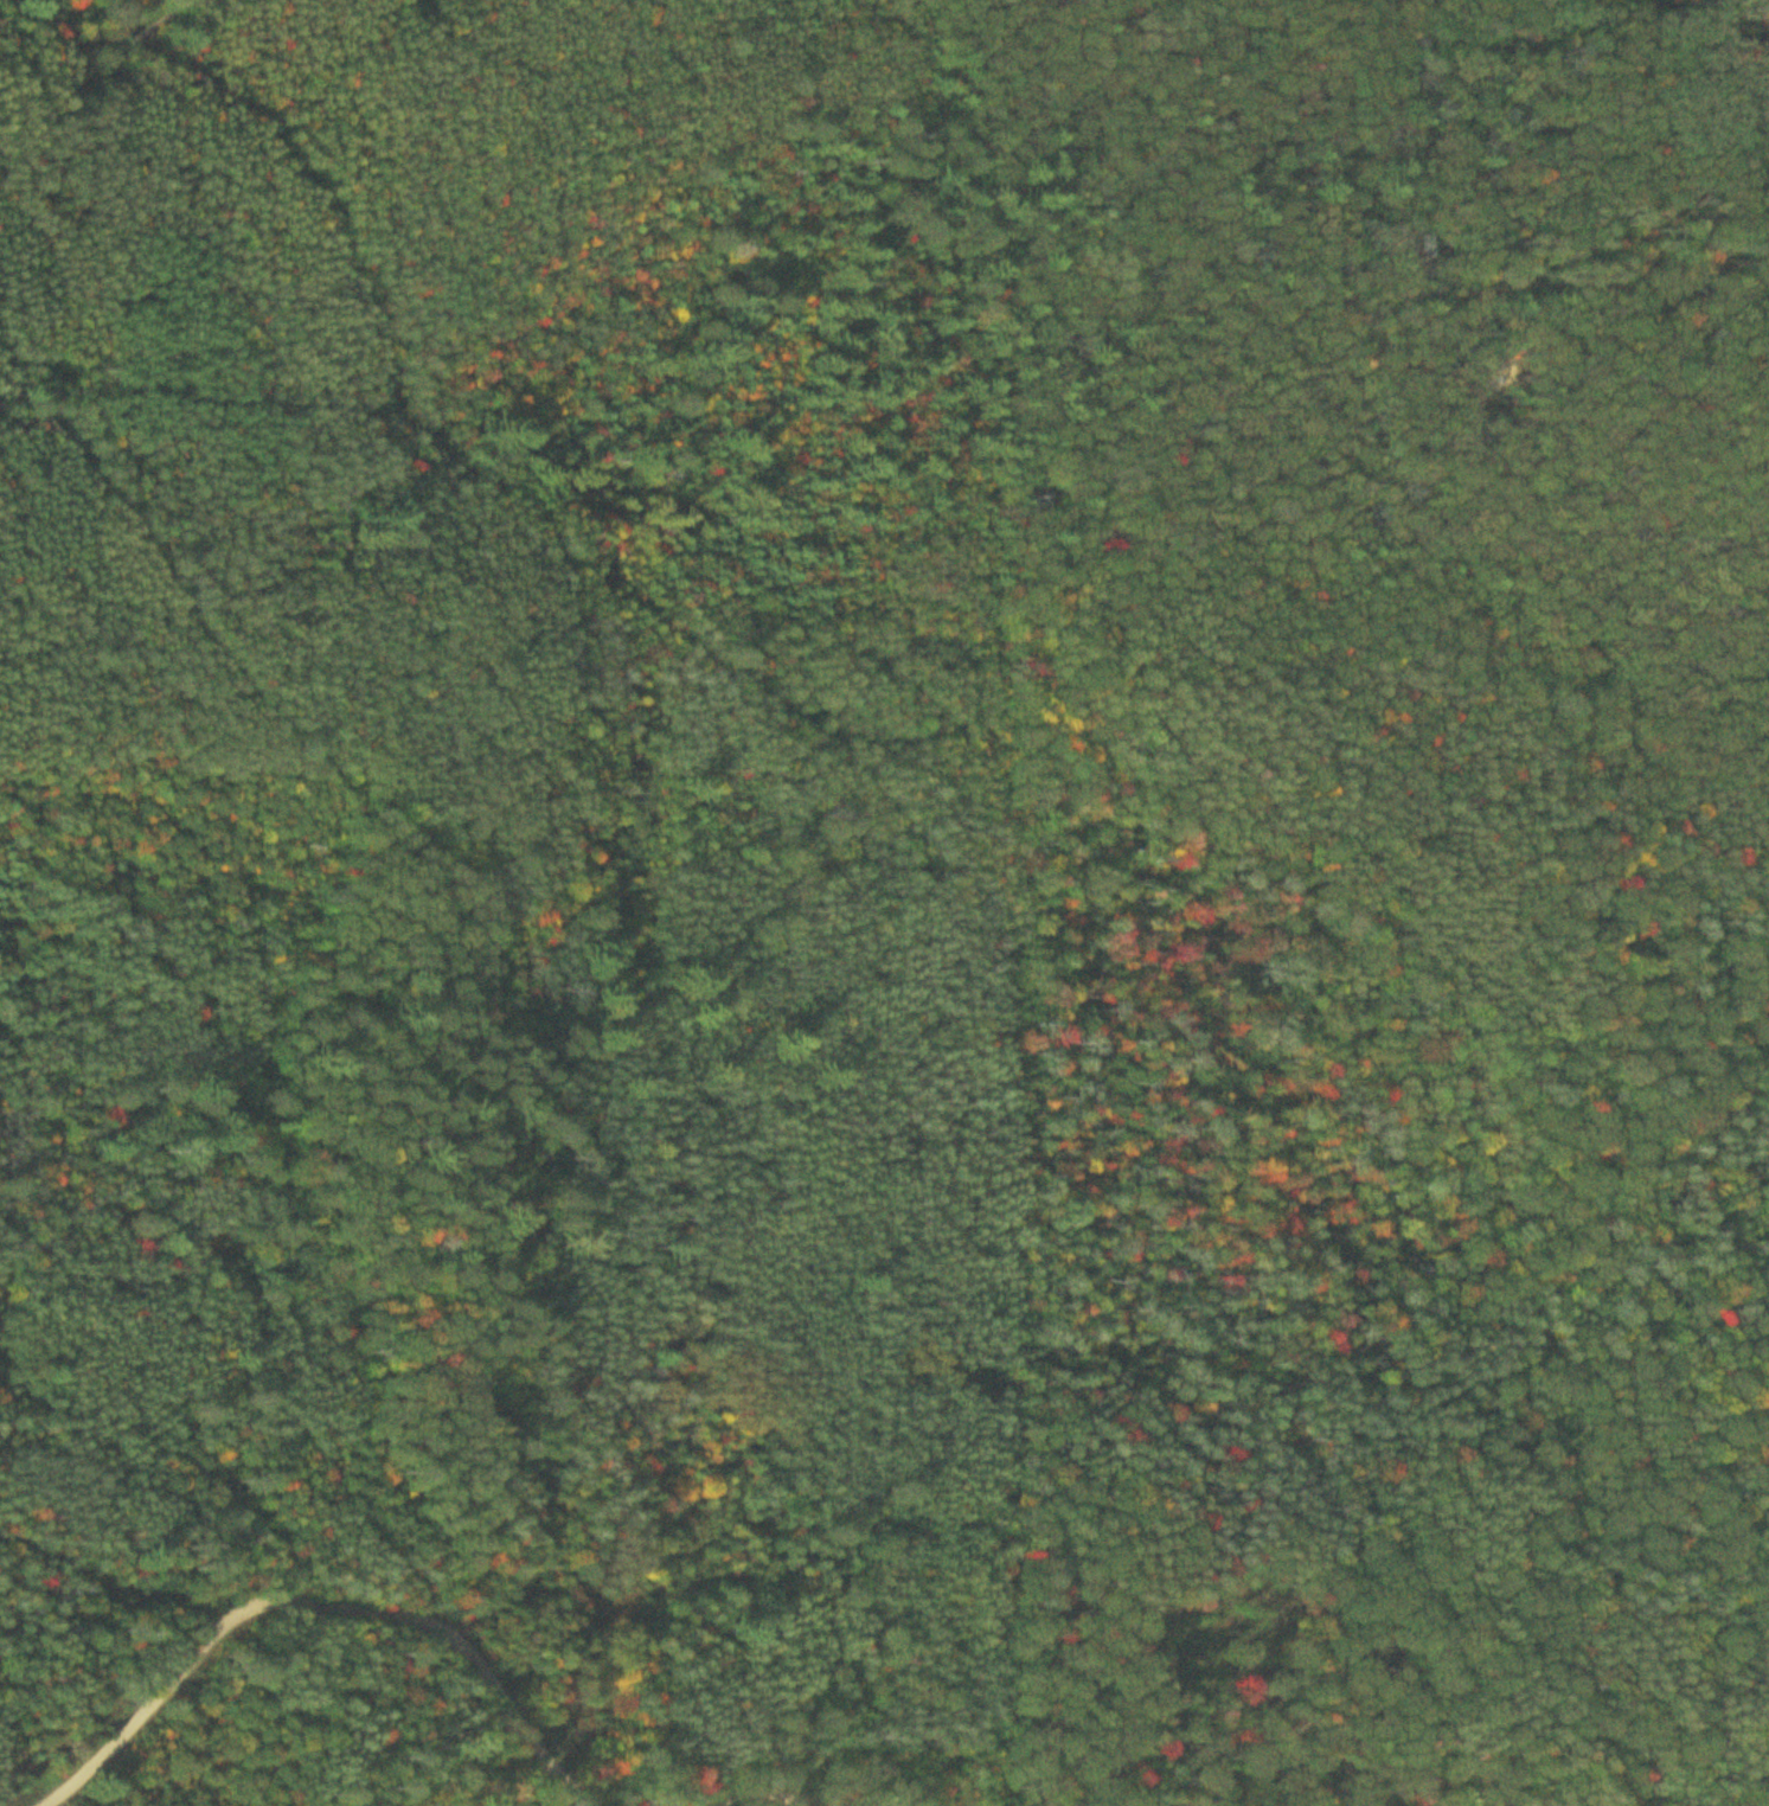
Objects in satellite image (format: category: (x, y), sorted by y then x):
road: (91, 76)
road: (325, 1596)
road: (778, 1798)

